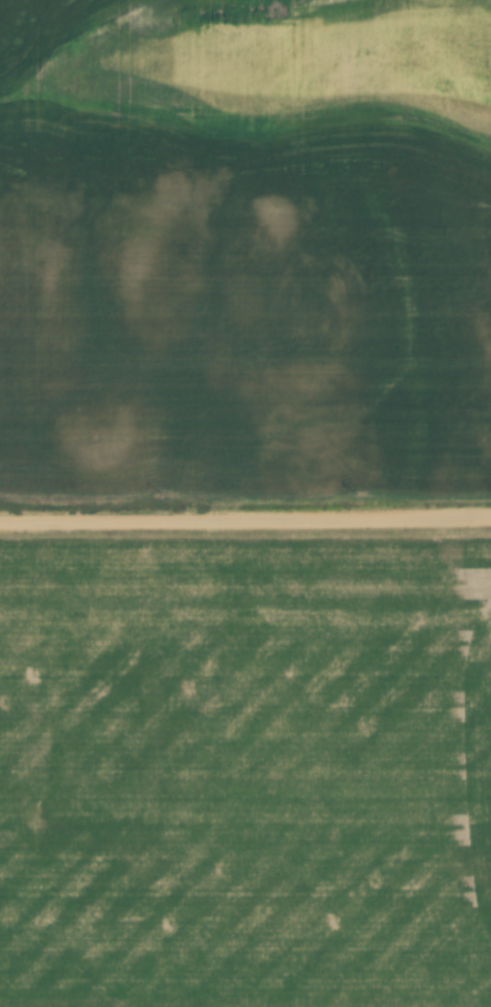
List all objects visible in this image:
road: (245, 531)

